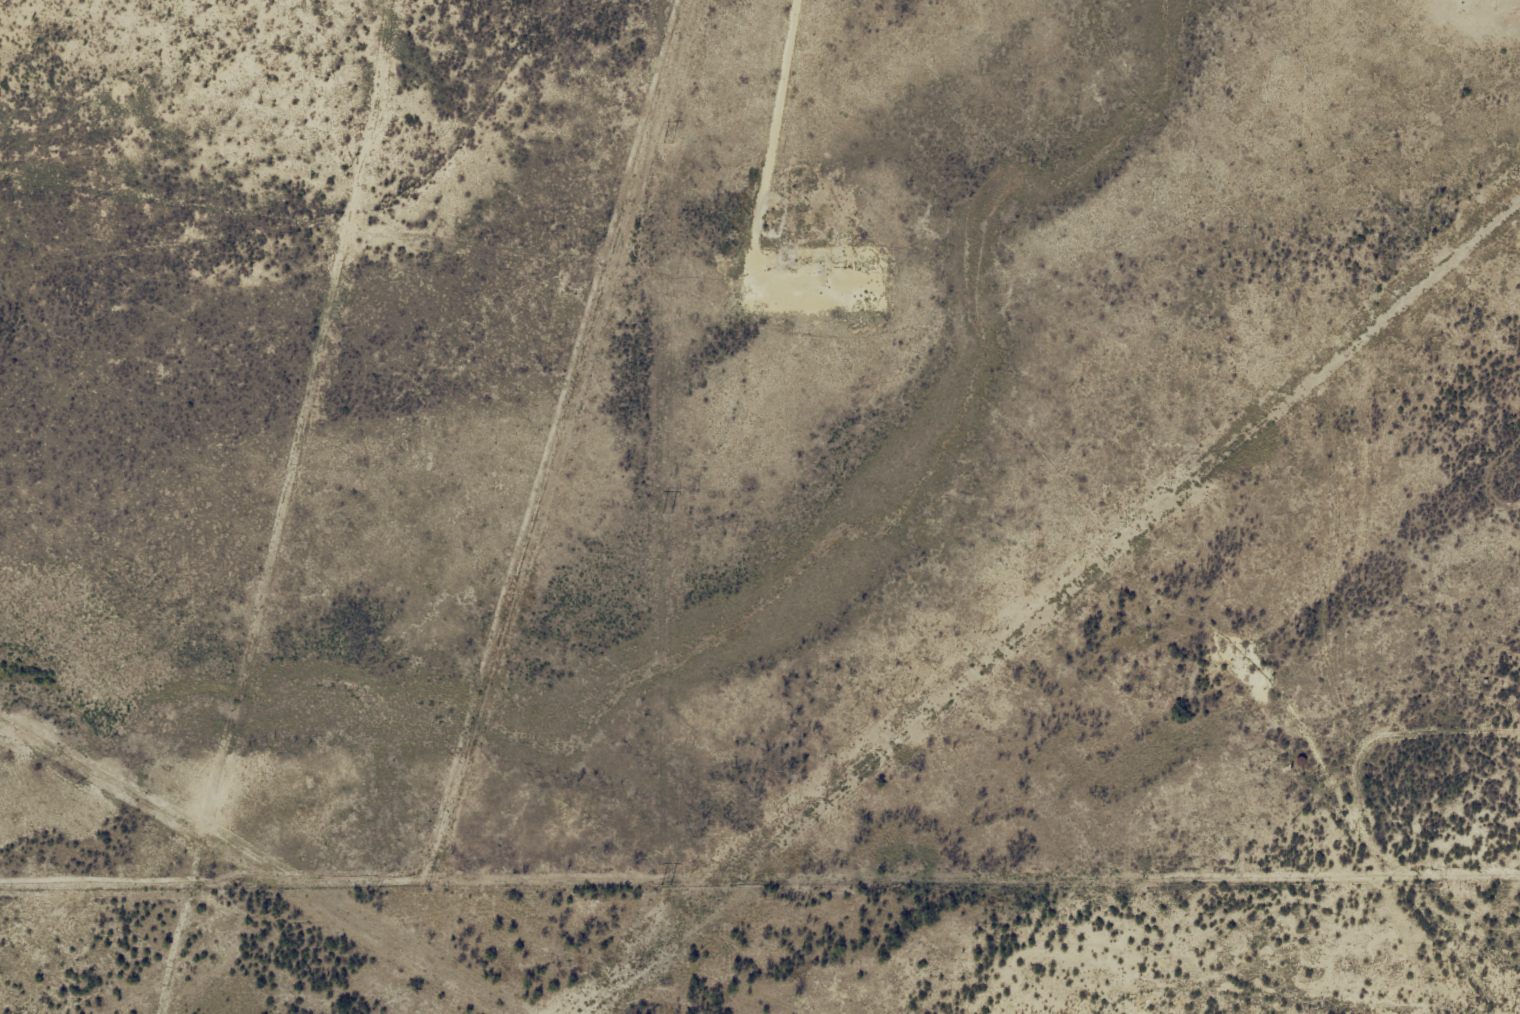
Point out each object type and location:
power tower: (666, 143)
power tower: (663, 511)
road: (1393, 745)
power tower: (661, 882)

